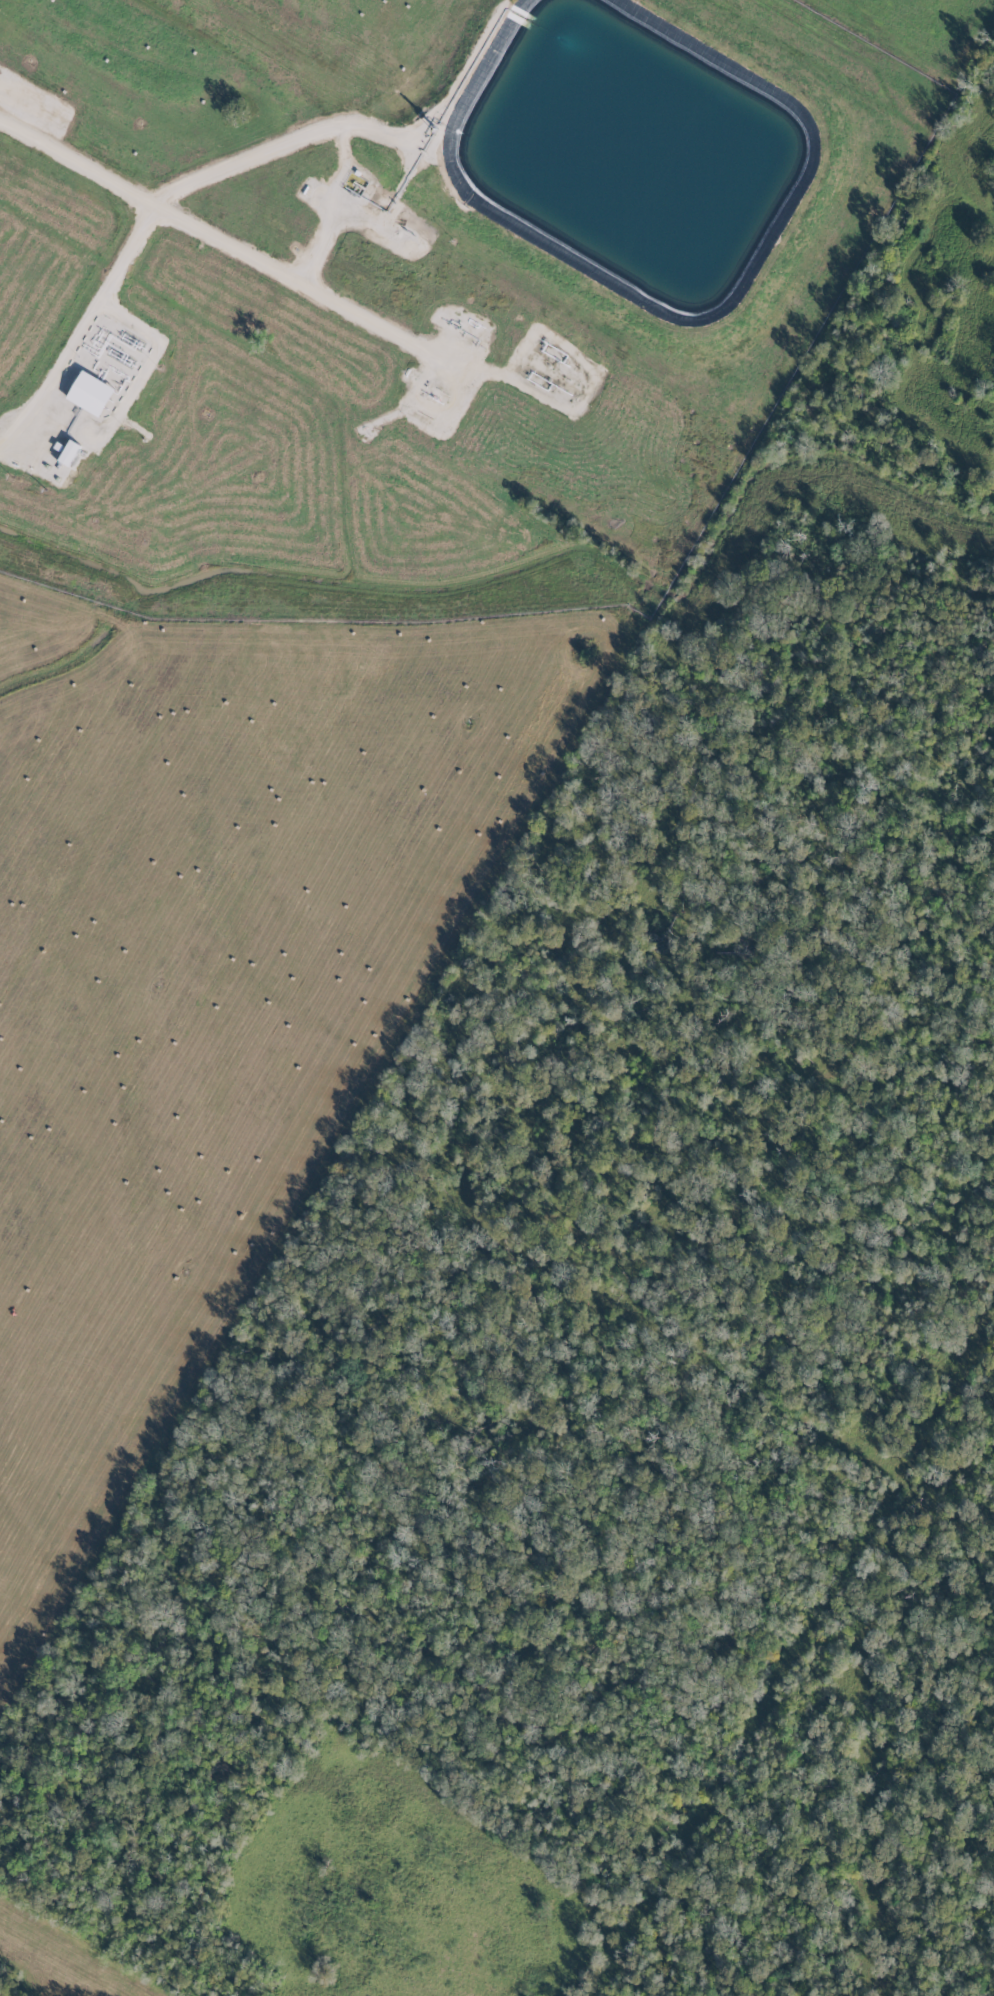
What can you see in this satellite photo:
building: (103, 364)
building: (65, 452)

